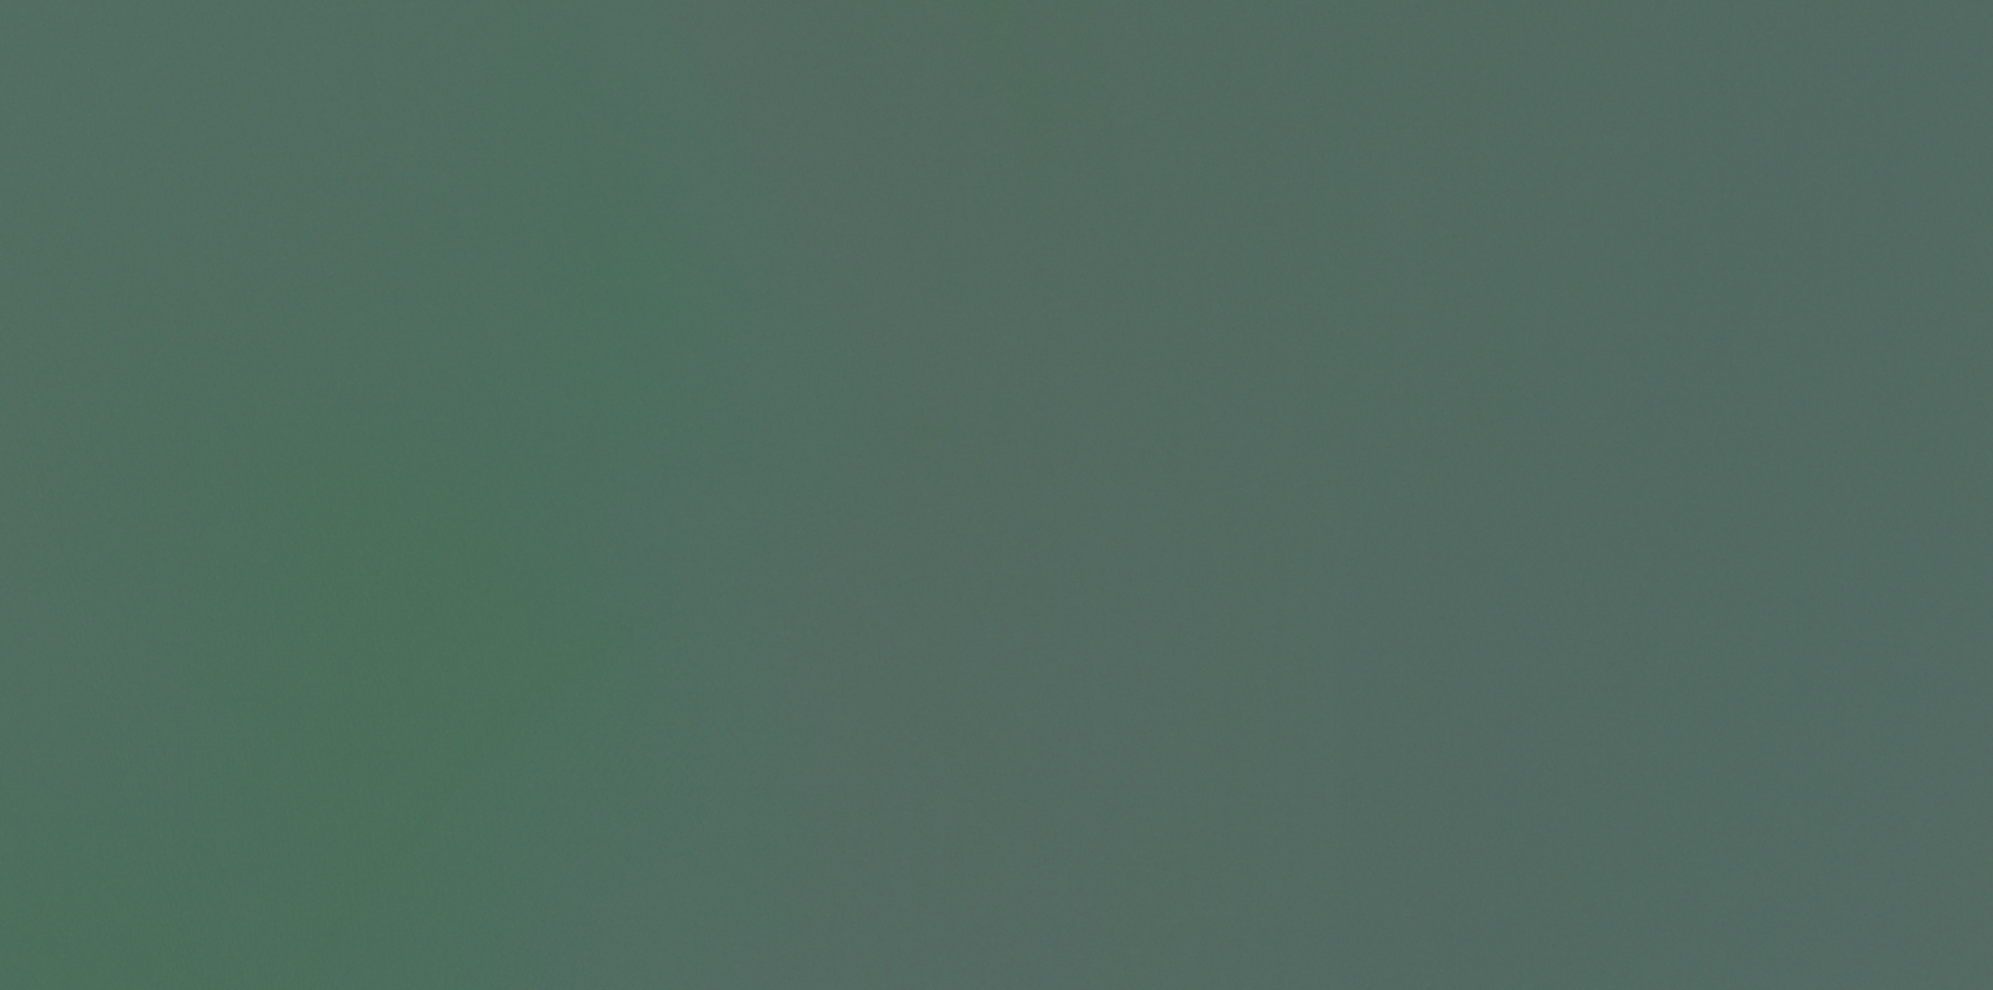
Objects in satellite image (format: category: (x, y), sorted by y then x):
river: (49, 314)

